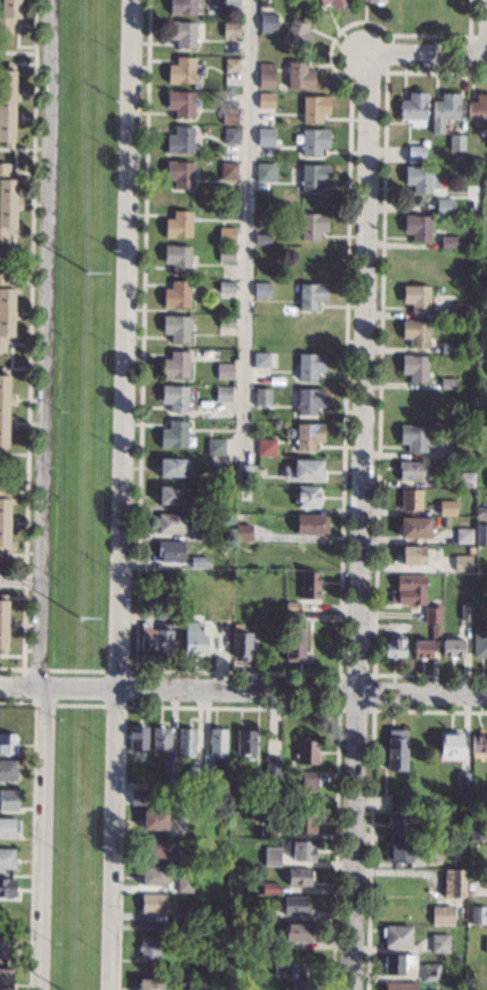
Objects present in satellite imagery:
building: (375, 1)
building: (333, 3)
building: (182, 6)
building: (230, 6)
building: (10, 14)
building: (267, 23)
building: (230, 30)
building: (181, 33)
building: (296, 34)
road: (427, 62)
building: (231, 64)
building: (180, 71)
building: (265, 75)
building: (298, 75)
building: (280, 87)
building: (265, 101)
building: (180, 103)
building: (7, 105)
building: (314, 108)
building: (413, 109)
building: (477, 109)
building: (443, 111)
building: (228, 115)
building: (230, 135)
building: (264, 137)
building: (179, 140)
building: (314, 141)
building: (456, 142)
building: (416, 152)
building: (227, 170)
building: (265, 172)
building: (178, 173)
building: (313, 176)
building: (420, 178)
building: (8, 202)
building: (443, 206)
building: (177, 225)
building: (312, 225)
building: (416, 227)
road: (246, 230)
building: (226, 235)
building: (262, 239)
building: (448, 242)
building: (3, 251)
building: (225, 254)
building: (177, 257)
building: (311, 261)
building: (416, 262)
power tower: (87, 273)
building: (262, 273)
building: (447, 278)
building: (225, 287)
building: (261, 289)
building: (176, 294)
building: (311, 295)
building: (415, 297)
building: (7, 310)
building: (460, 310)
building: (225, 322)
building: (260, 323)
building: (175, 328)
building: (310, 330)
building: (415, 332)
building: (448, 348)
building: (174, 364)
building: (309, 365)
building: (262, 366)
building: (414, 368)
building: (224, 371)
building: (447, 380)
building: (191, 391)
building: (222, 394)
building: (262, 396)
building: (174, 398)
building: (308, 400)
building: (413, 402)
building: (4, 409)
building: (447, 415)
building: (173, 434)
building: (308, 435)
building: (414, 437)
building: (215, 447)
building: (265, 447)
building: (462, 451)
building: (173, 466)
building: (303, 470)
building: (409, 470)
building: (224, 474)
building: (244, 474)
building: (465, 480)
building: (482, 484)
building: (0, 486)
building: (243, 493)
road: (43, 495)
road: (123, 495)
building: (169, 495)
building: (306, 496)
building: (410, 500)
building: (206, 502)
building: (446, 508)
building: (481, 512)
building: (5, 521)
building: (171, 523)
building: (310, 524)
road: (360, 525)
building: (414, 527)
building: (480, 531)
building: (242, 532)
building: (201, 534)
building: (463, 535)
building: (470, 550)
building: (170, 551)
building: (411, 555)
building: (198, 561)
building: (462, 563)
road: (21, 580)
building: (310, 585)
building: (408, 590)
building: (292, 606)
building: (432, 612)
building: (465, 612)
building: (254, 614)
building: (291, 617)
power tower: (81, 620)
building: (172, 620)
building: (4, 623)
building: (435, 632)
building: (155, 639)
building: (202, 639)
building: (479, 642)
building: (241, 645)
building: (293, 645)
building: (452, 647)
building: (393, 648)
building: (421, 649)
road: (60, 688)
road: (303, 691)
building: (137, 738)
building: (161, 739)
building: (185, 742)
building: (217, 742)
building: (7, 743)
building: (245, 743)
building: (478, 744)
building: (450, 746)
building: (305, 750)
building: (396, 750)
building: (273, 766)
building: (8, 771)
building: (168, 774)
building: (194, 774)
building: (208, 774)
building: (310, 779)
building: (462, 779)
building: (388, 791)
building: (138, 797)
building: (413, 799)
building: (9, 800)
building: (154, 820)
building: (304, 823)
building: (398, 824)
building: (9, 827)
building: (268, 832)
building: (477, 832)
building: (428, 834)
building: (153, 848)
building: (303, 851)
building: (398, 851)
building: (458, 852)
building: (272, 856)
building: (185, 857)
building: (7, 859)
building: (153, 876)
building: (299, 876)
building: (184, 883)
building: (454, 883)
building: (270, 888)
building: (480, 888)
building: (7, 889)
building: (155, 903)
building: (295, 905)
building: (264, 908)
building: (179, 915)
building: (441, 915)
building: (478, 915)
building: (249, 916)
building: (175, 928)
building: (297, 933)
building: (396, 936)
building: (267, 943)
building: (439, 943)
building: (486, 945)
building: (4, 947)
building: (148, 947)
building: (397, 963)
building: (280, 970)
building: (430, 972)
building: (5, 979)
building: (149, 984)
building: (302, 985)
building: (399, 986)
building: (468, 987)
building: (182, 989)

